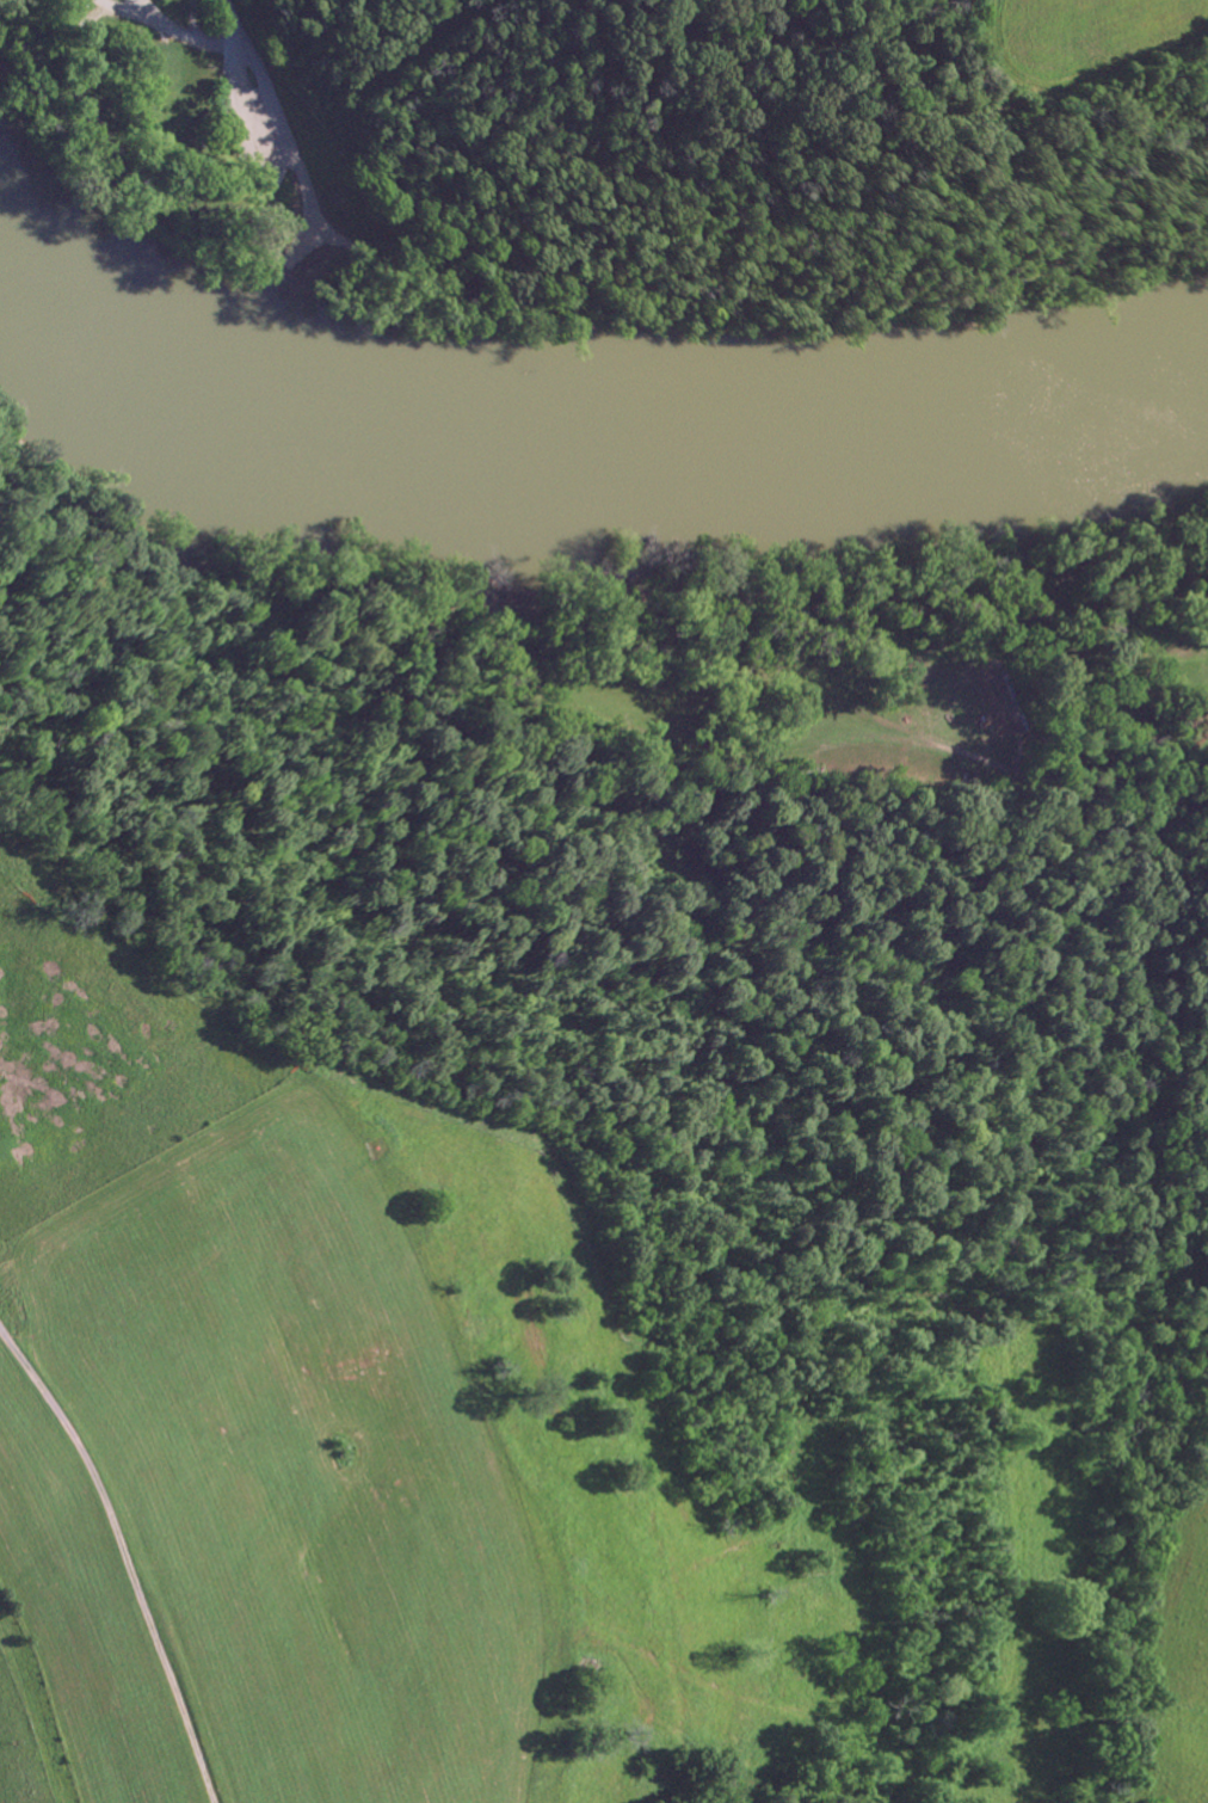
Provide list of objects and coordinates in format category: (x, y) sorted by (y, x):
road: (134, 13)
road: (158, 13)
road: (211, 41)
road: (286, 125)
river: (560, 441)
road: (1003, 776)

